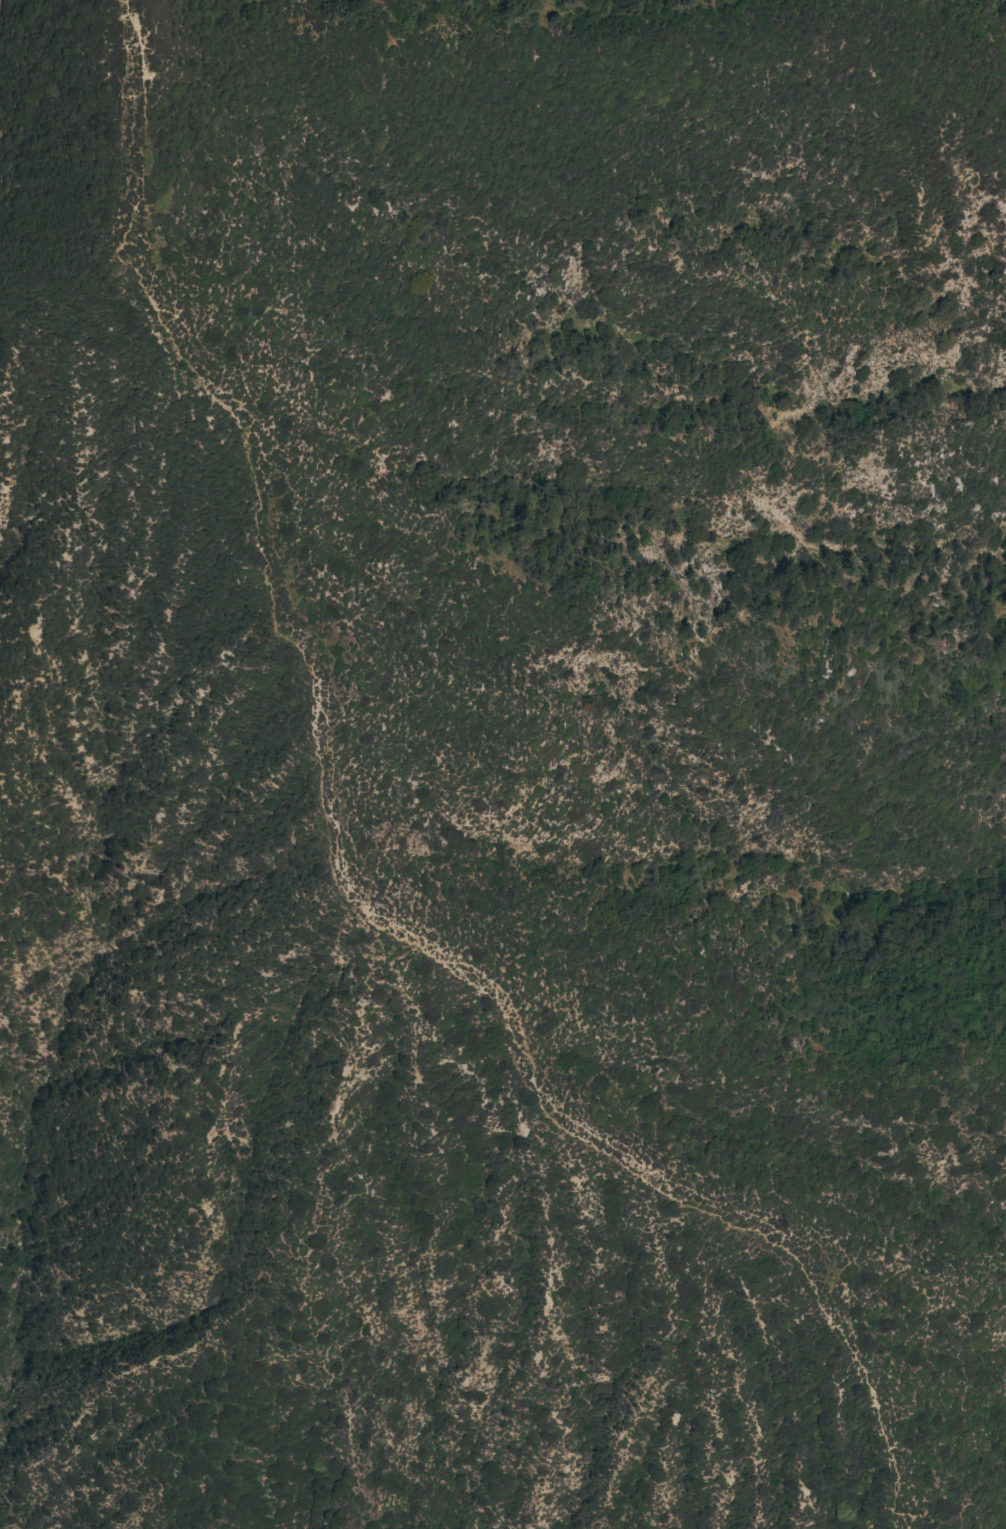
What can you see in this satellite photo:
road: (134, 27)
road: (358, 889)

